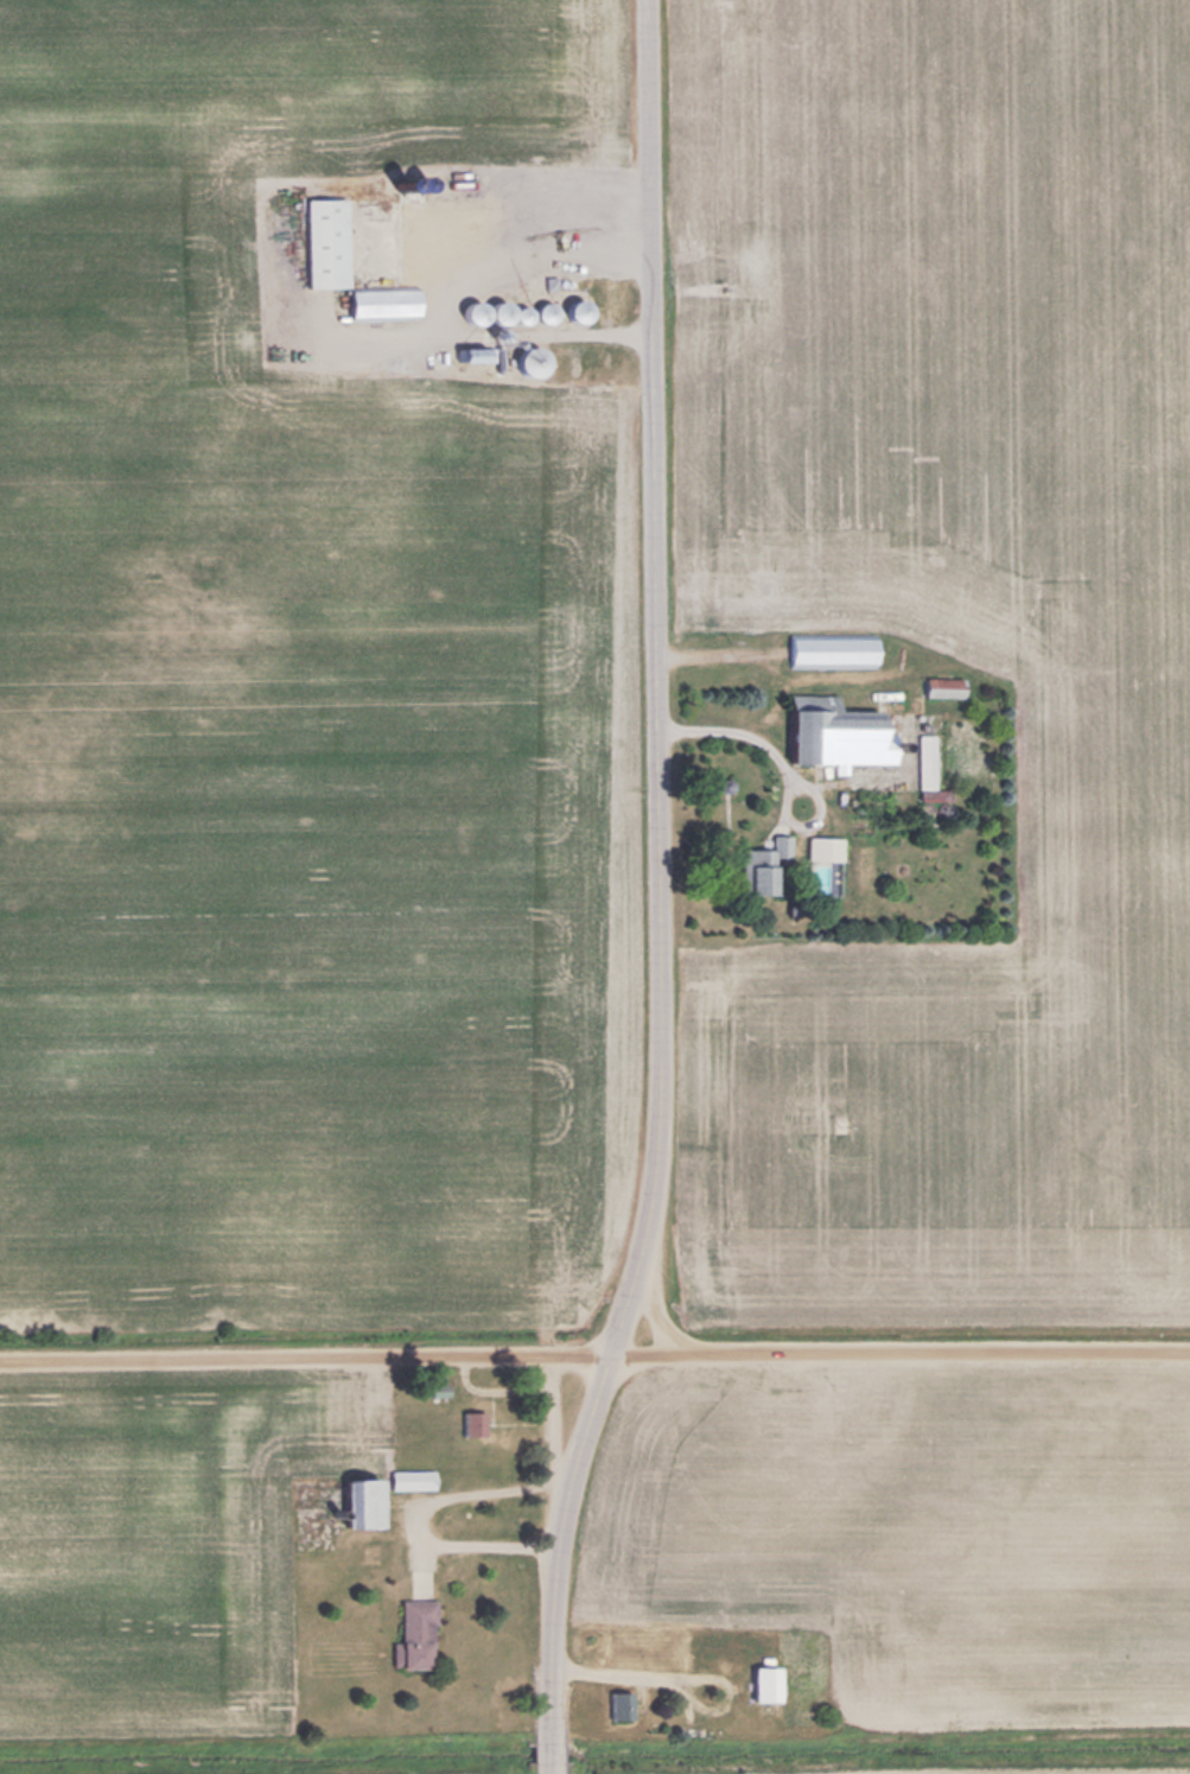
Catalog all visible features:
building: (483, 239)
building: (332, 241)
building: (388, 301)
building: (583, 309)
building: (479, 311)
building: (532, 312)
building: (485, 354)
building: (836, 649)
road: (658, 681)
building: (845, 732)
building: (766, 871)
road: (632, 1305)
road: (594, 1359)
building: (476, 1423)
road: (559, 1449)
building: (406, 1479)
building: (349, 1501)
road: (420, 1524)
road: (560, 1562)
building: (412, 1622)
building: (755, 1683)
building: (612, 1704)

